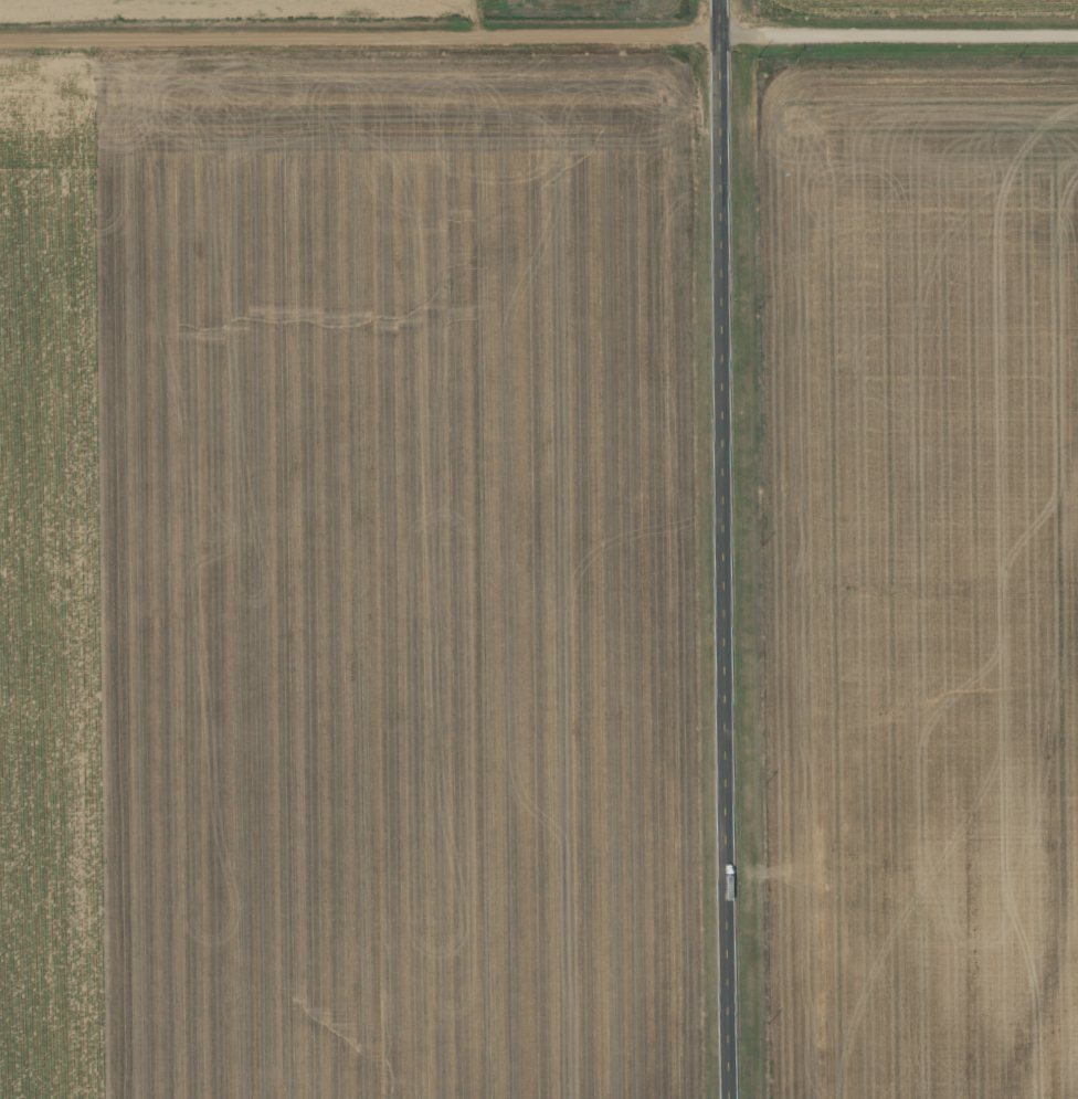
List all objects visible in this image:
road: (538, 32)
road: (726, 549)

